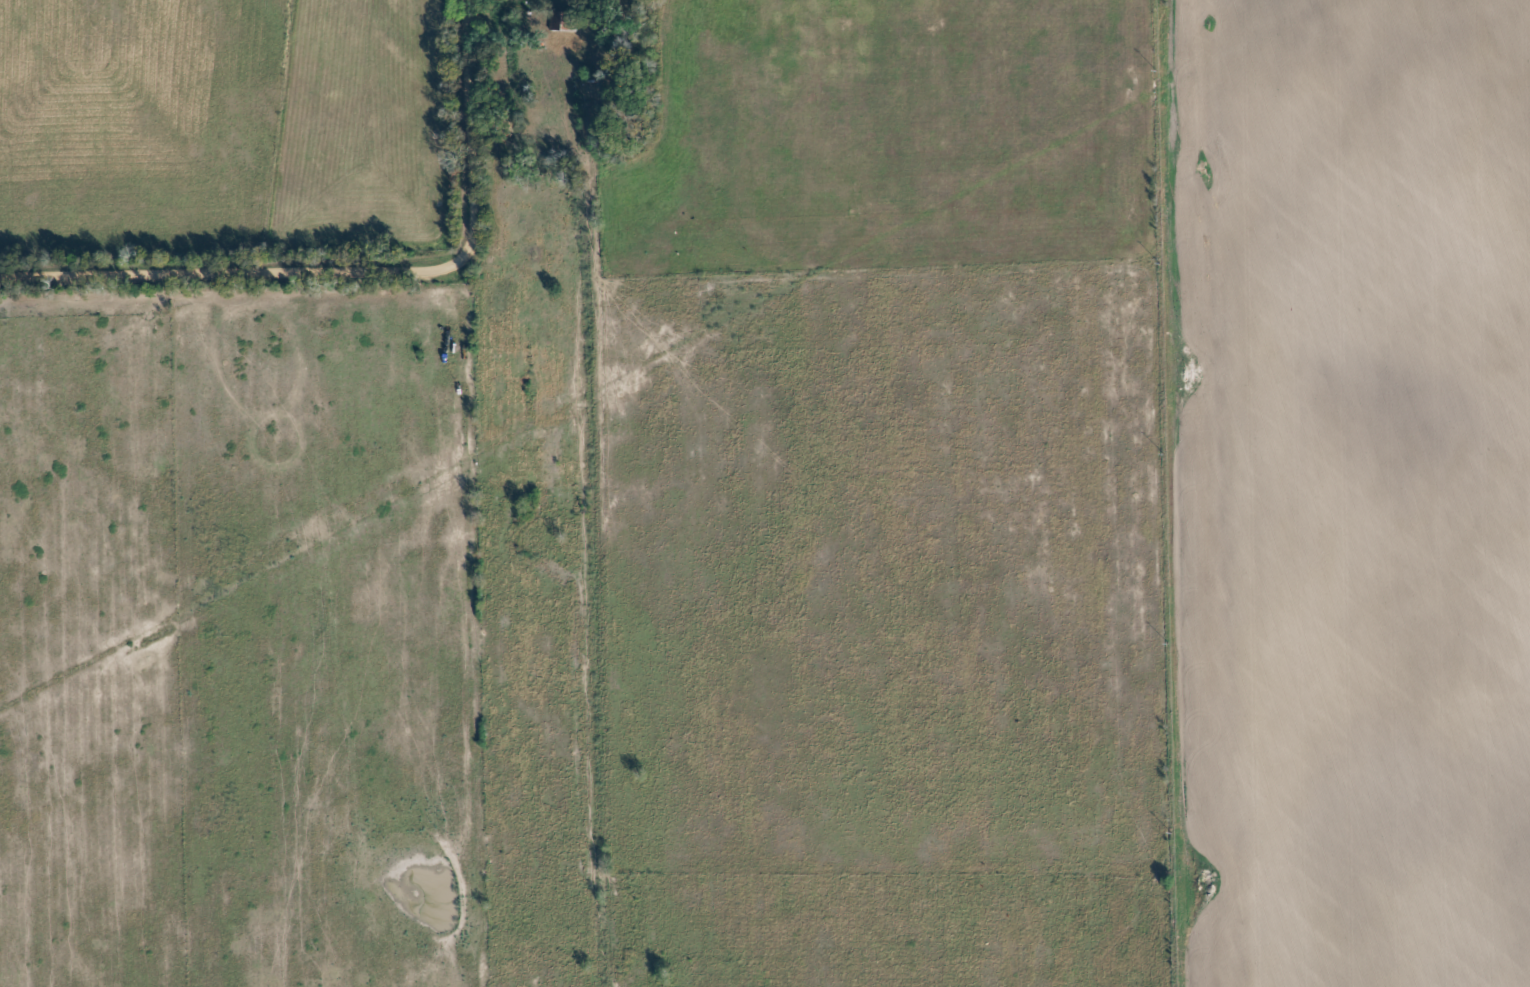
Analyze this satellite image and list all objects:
road: (364, 269)

